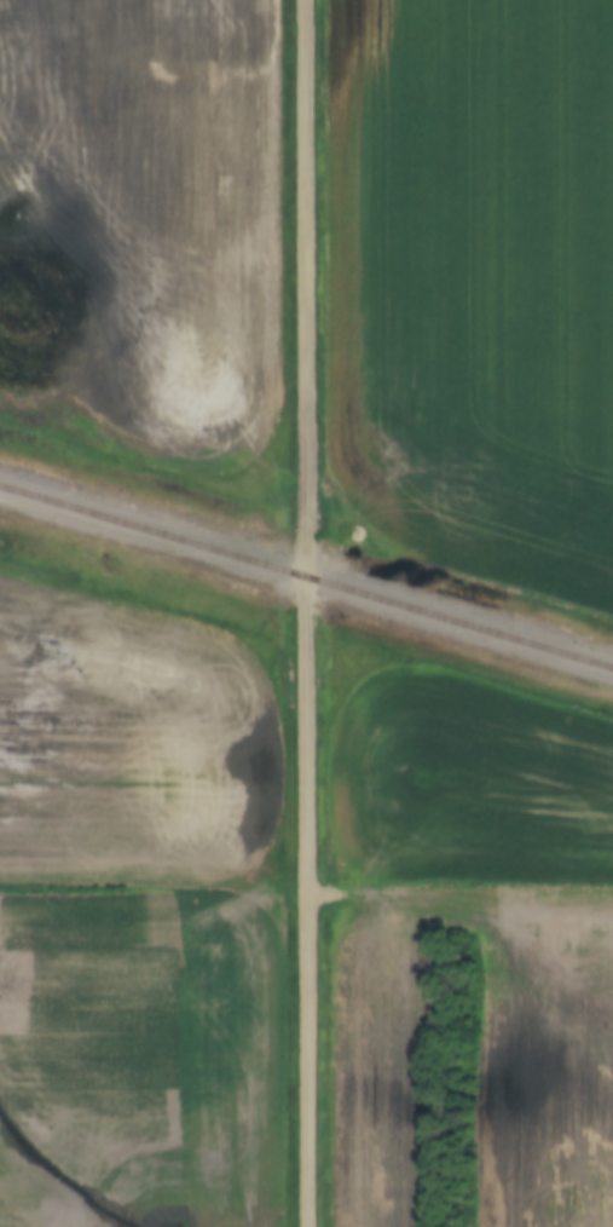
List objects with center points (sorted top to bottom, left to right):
crop: (478, 277)
railway: (306, 580)
road: (302, 613)
crop: (467, 774)

